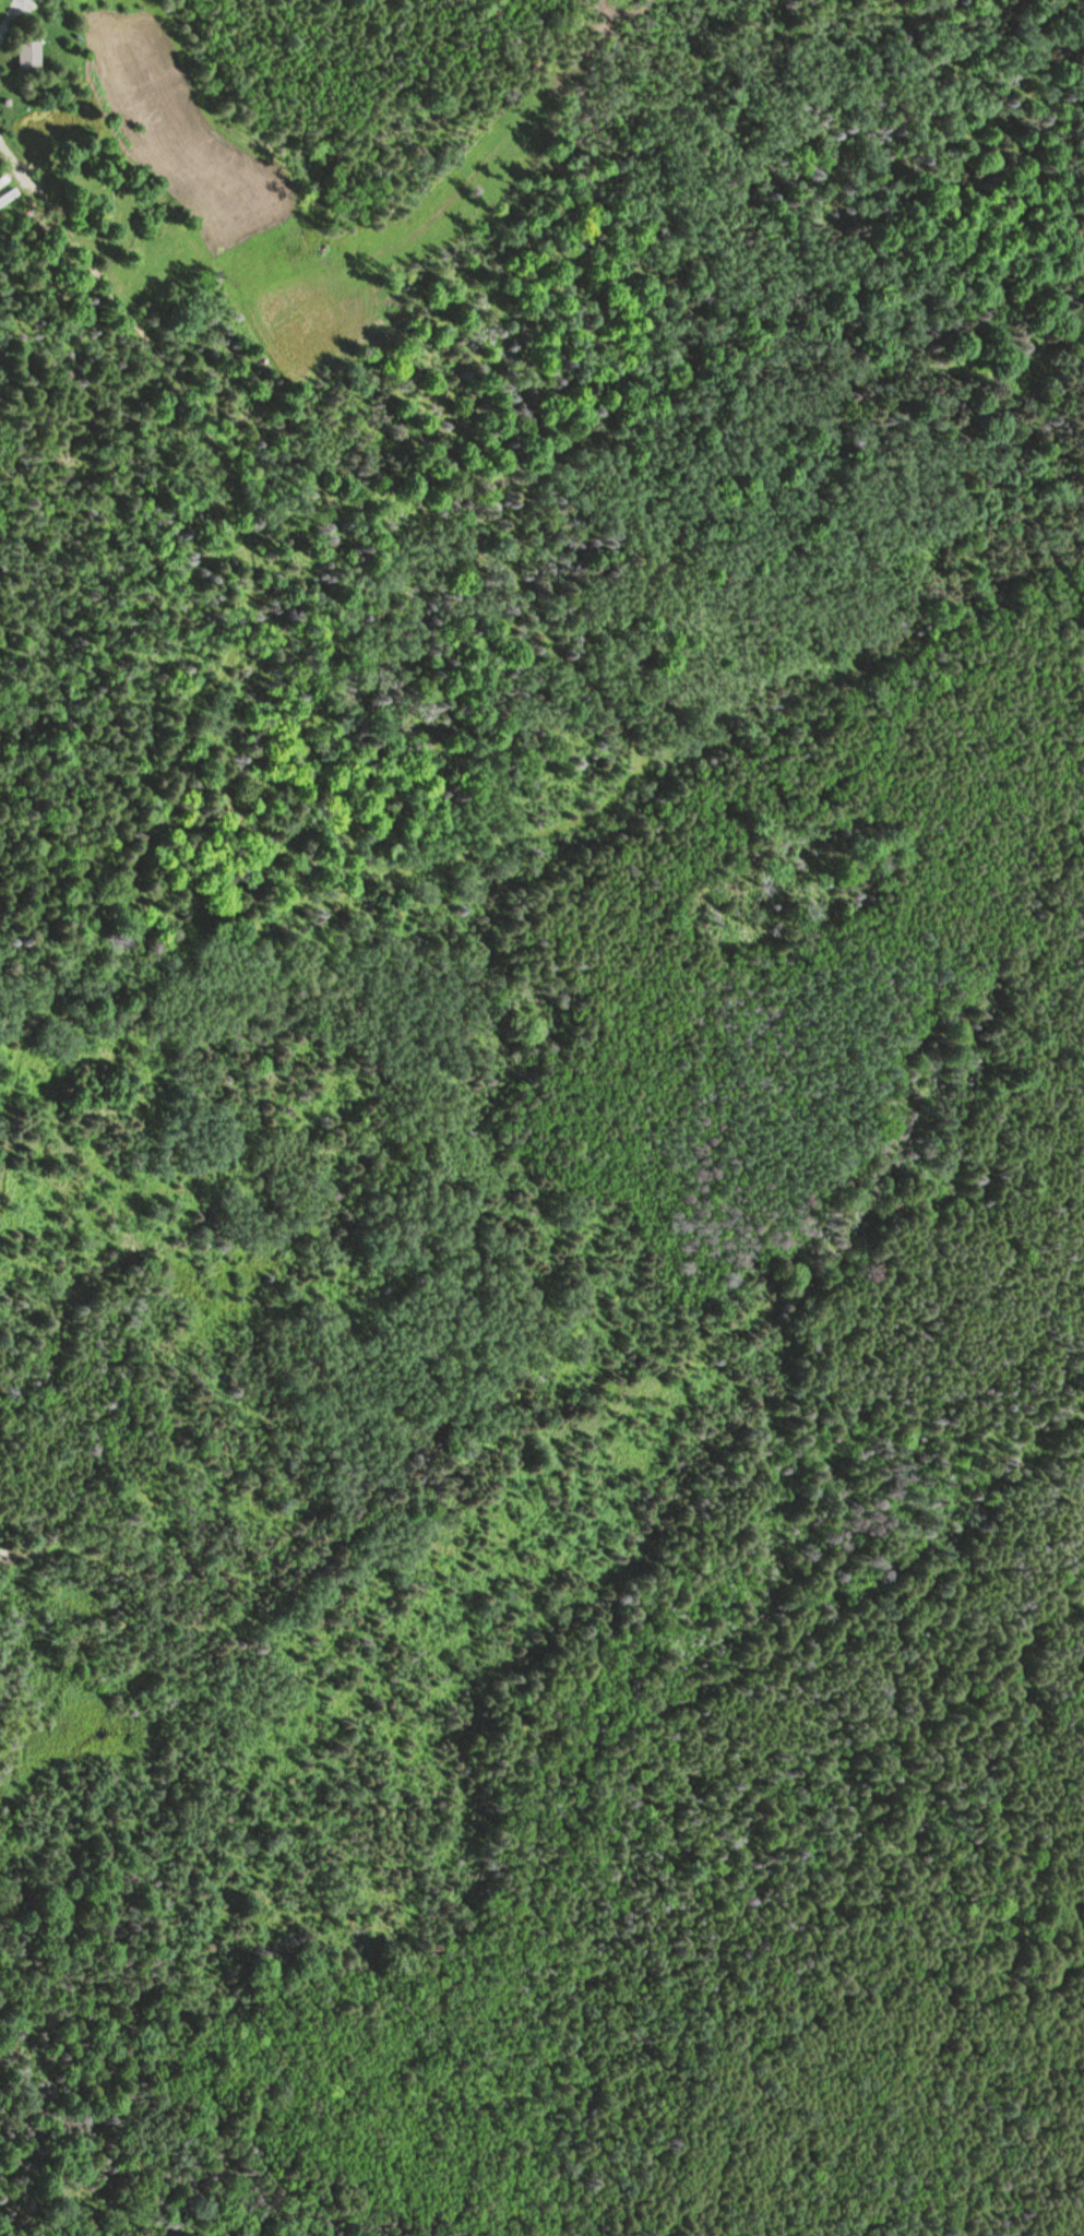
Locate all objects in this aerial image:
building: (28, 56)
road: (35, 214)
road: (53, 386)
river: (823, 2018)

